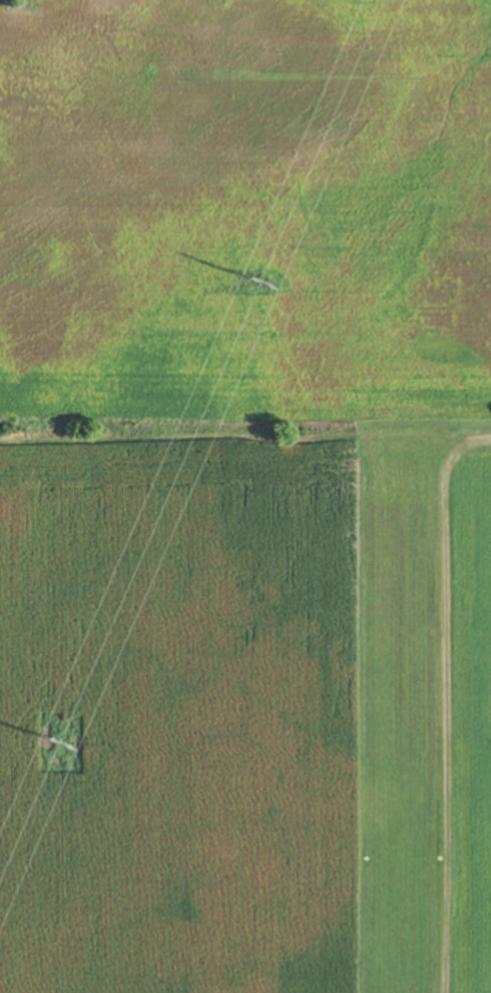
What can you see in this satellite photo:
power tower: (263, 281)
airport: (409, 709)
airport runway: (399, 723)
power tower: (63, 740)

